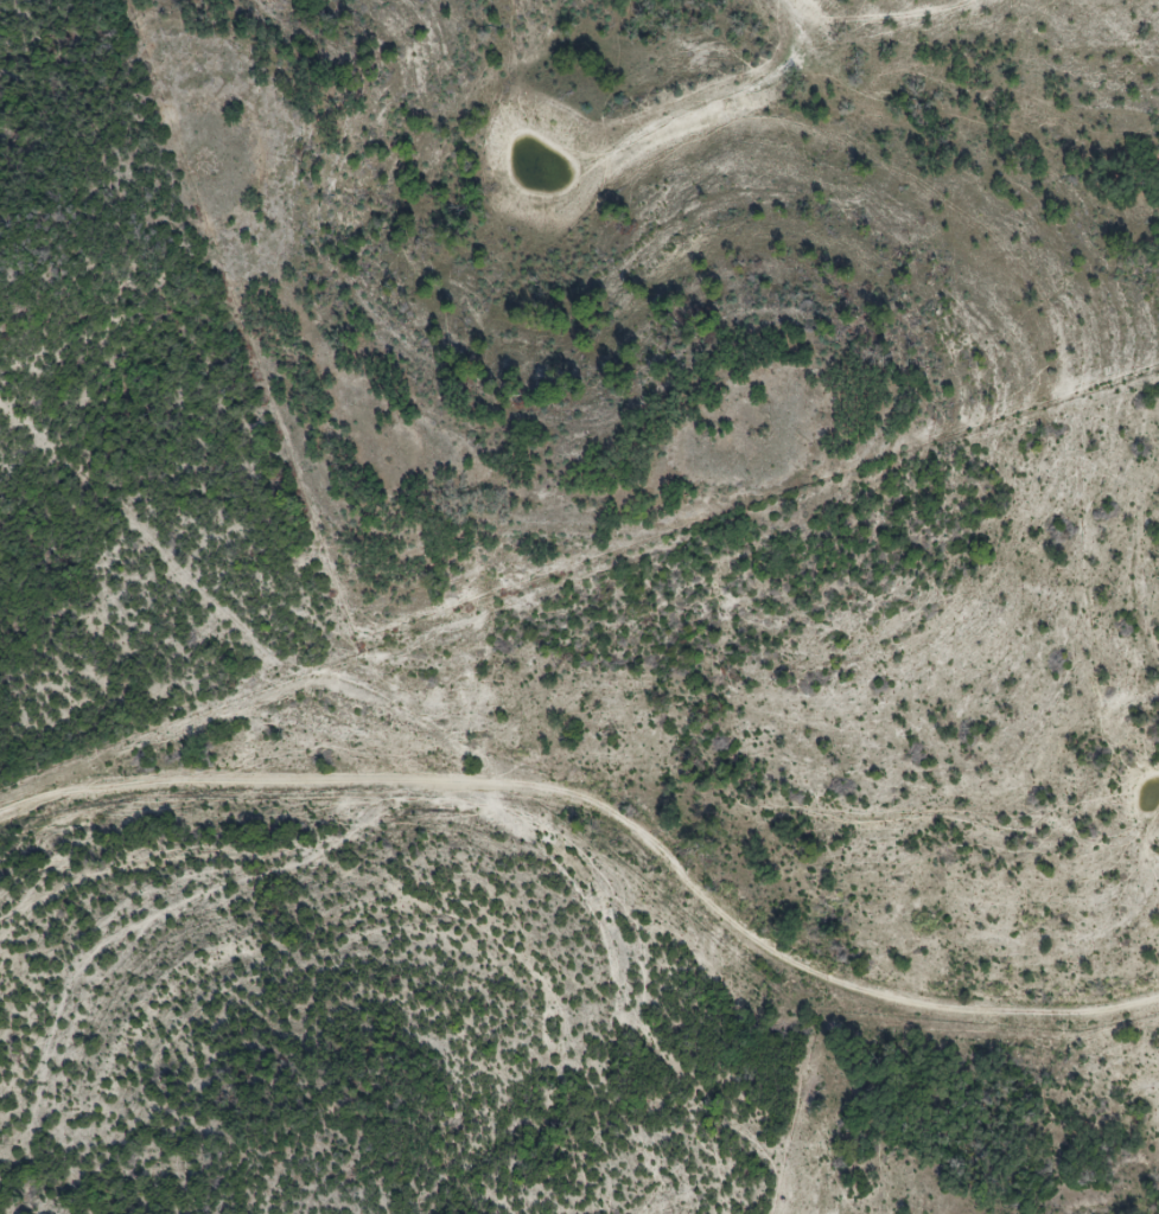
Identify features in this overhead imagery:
road: (609, 800)

